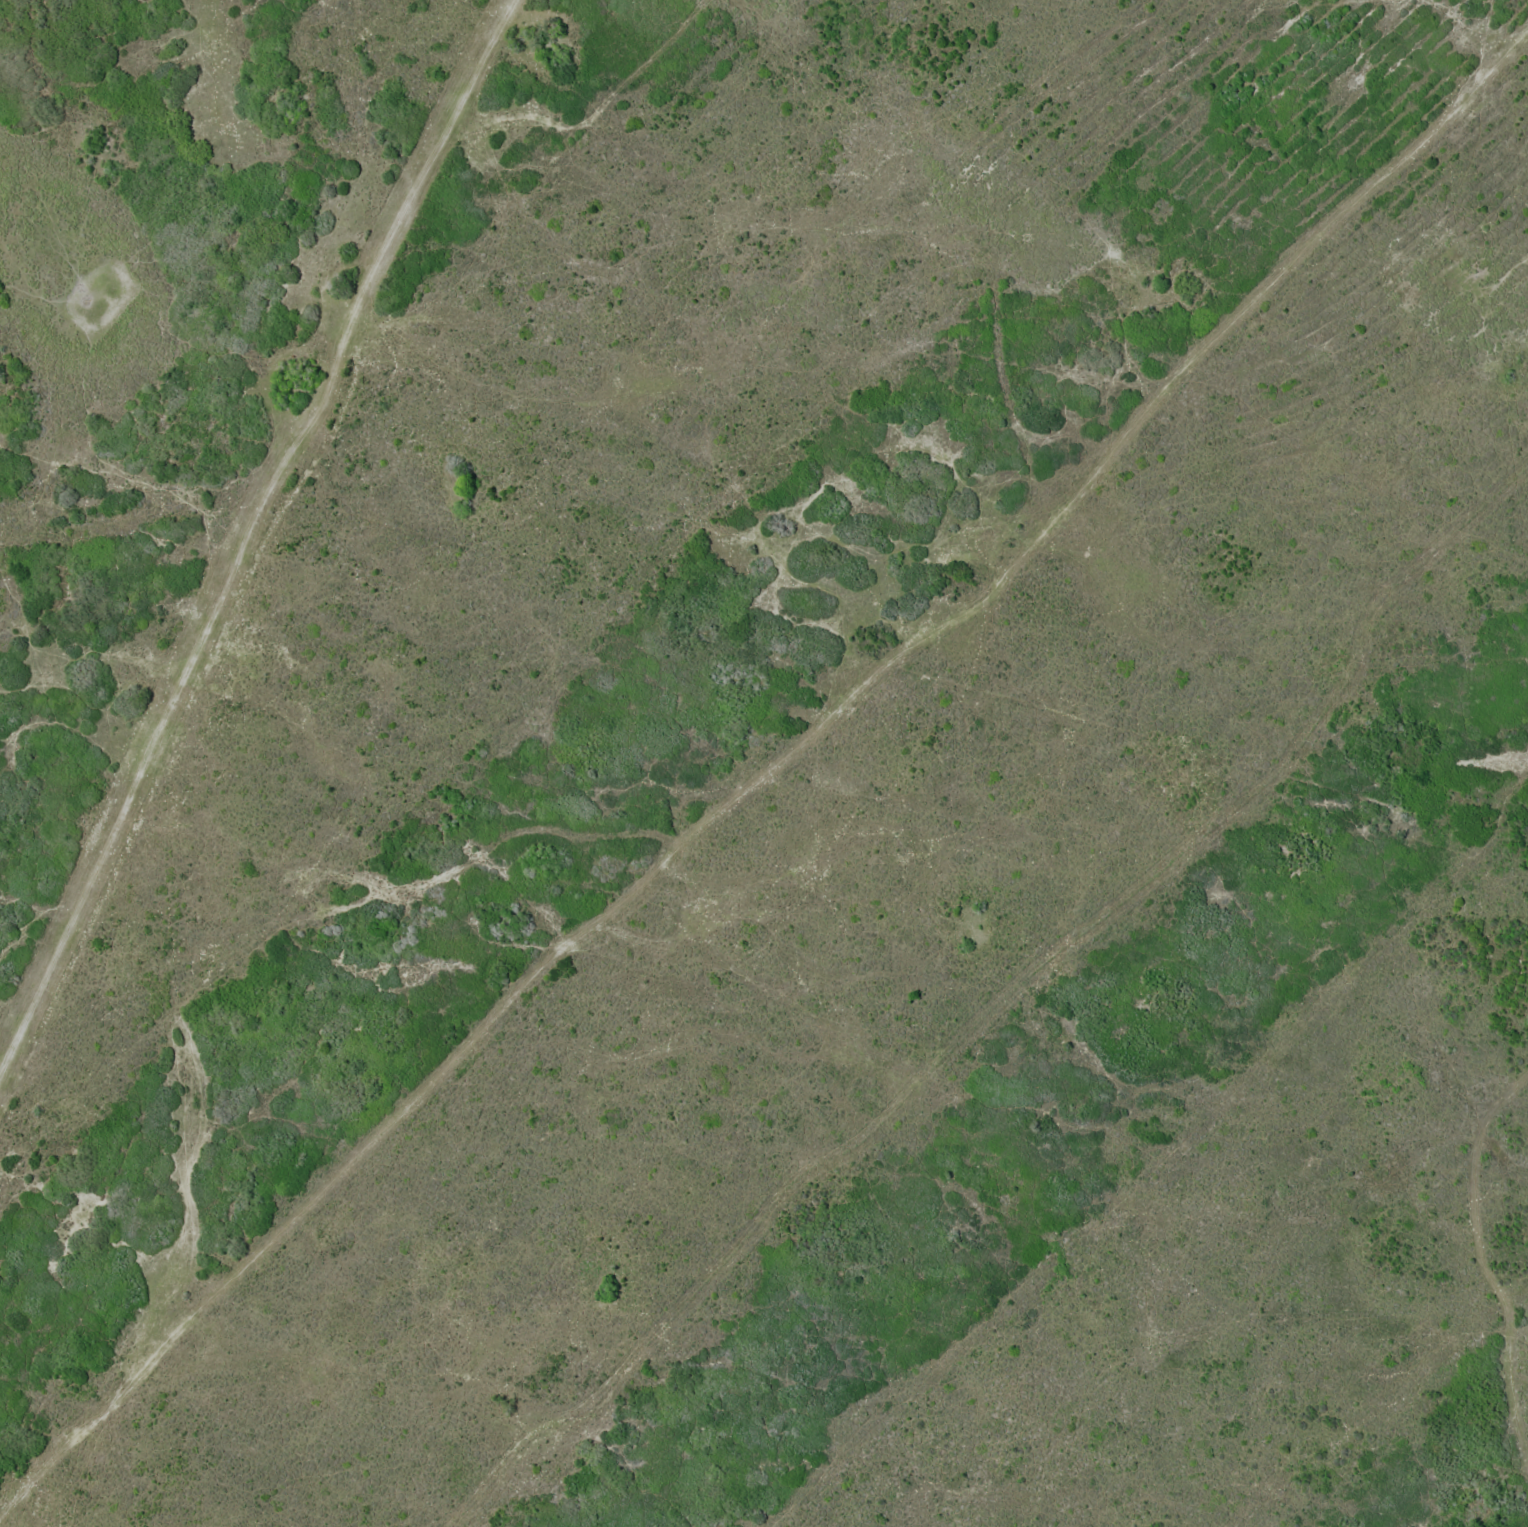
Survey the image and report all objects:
road: (251, 517)

